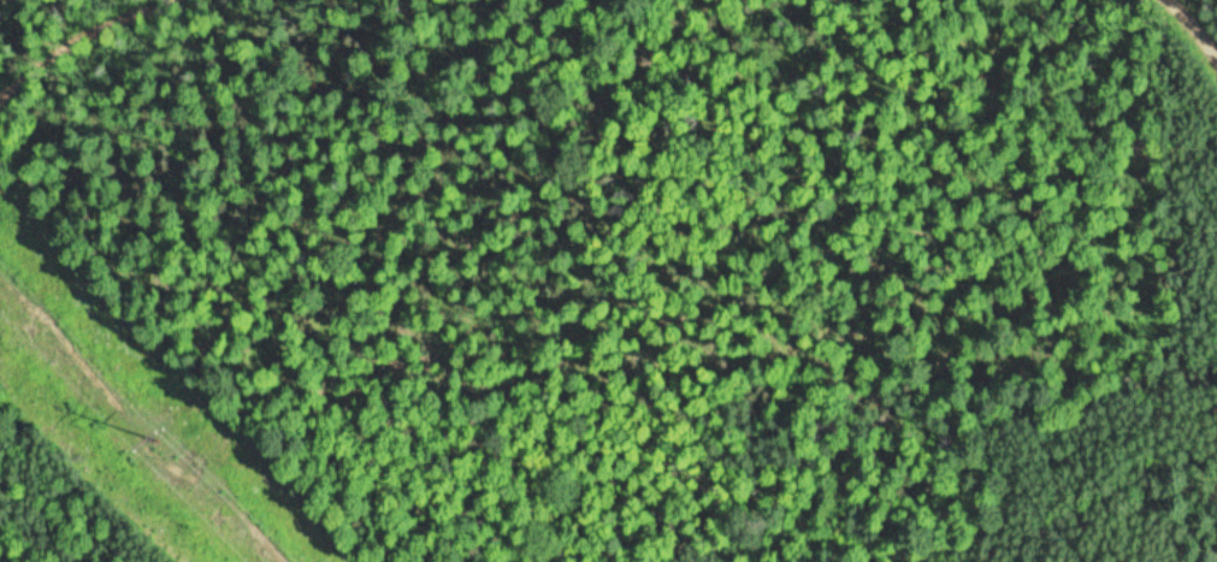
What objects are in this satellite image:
road: (1191, 31)
road: (94, 53)
power tower: (161, 438)

